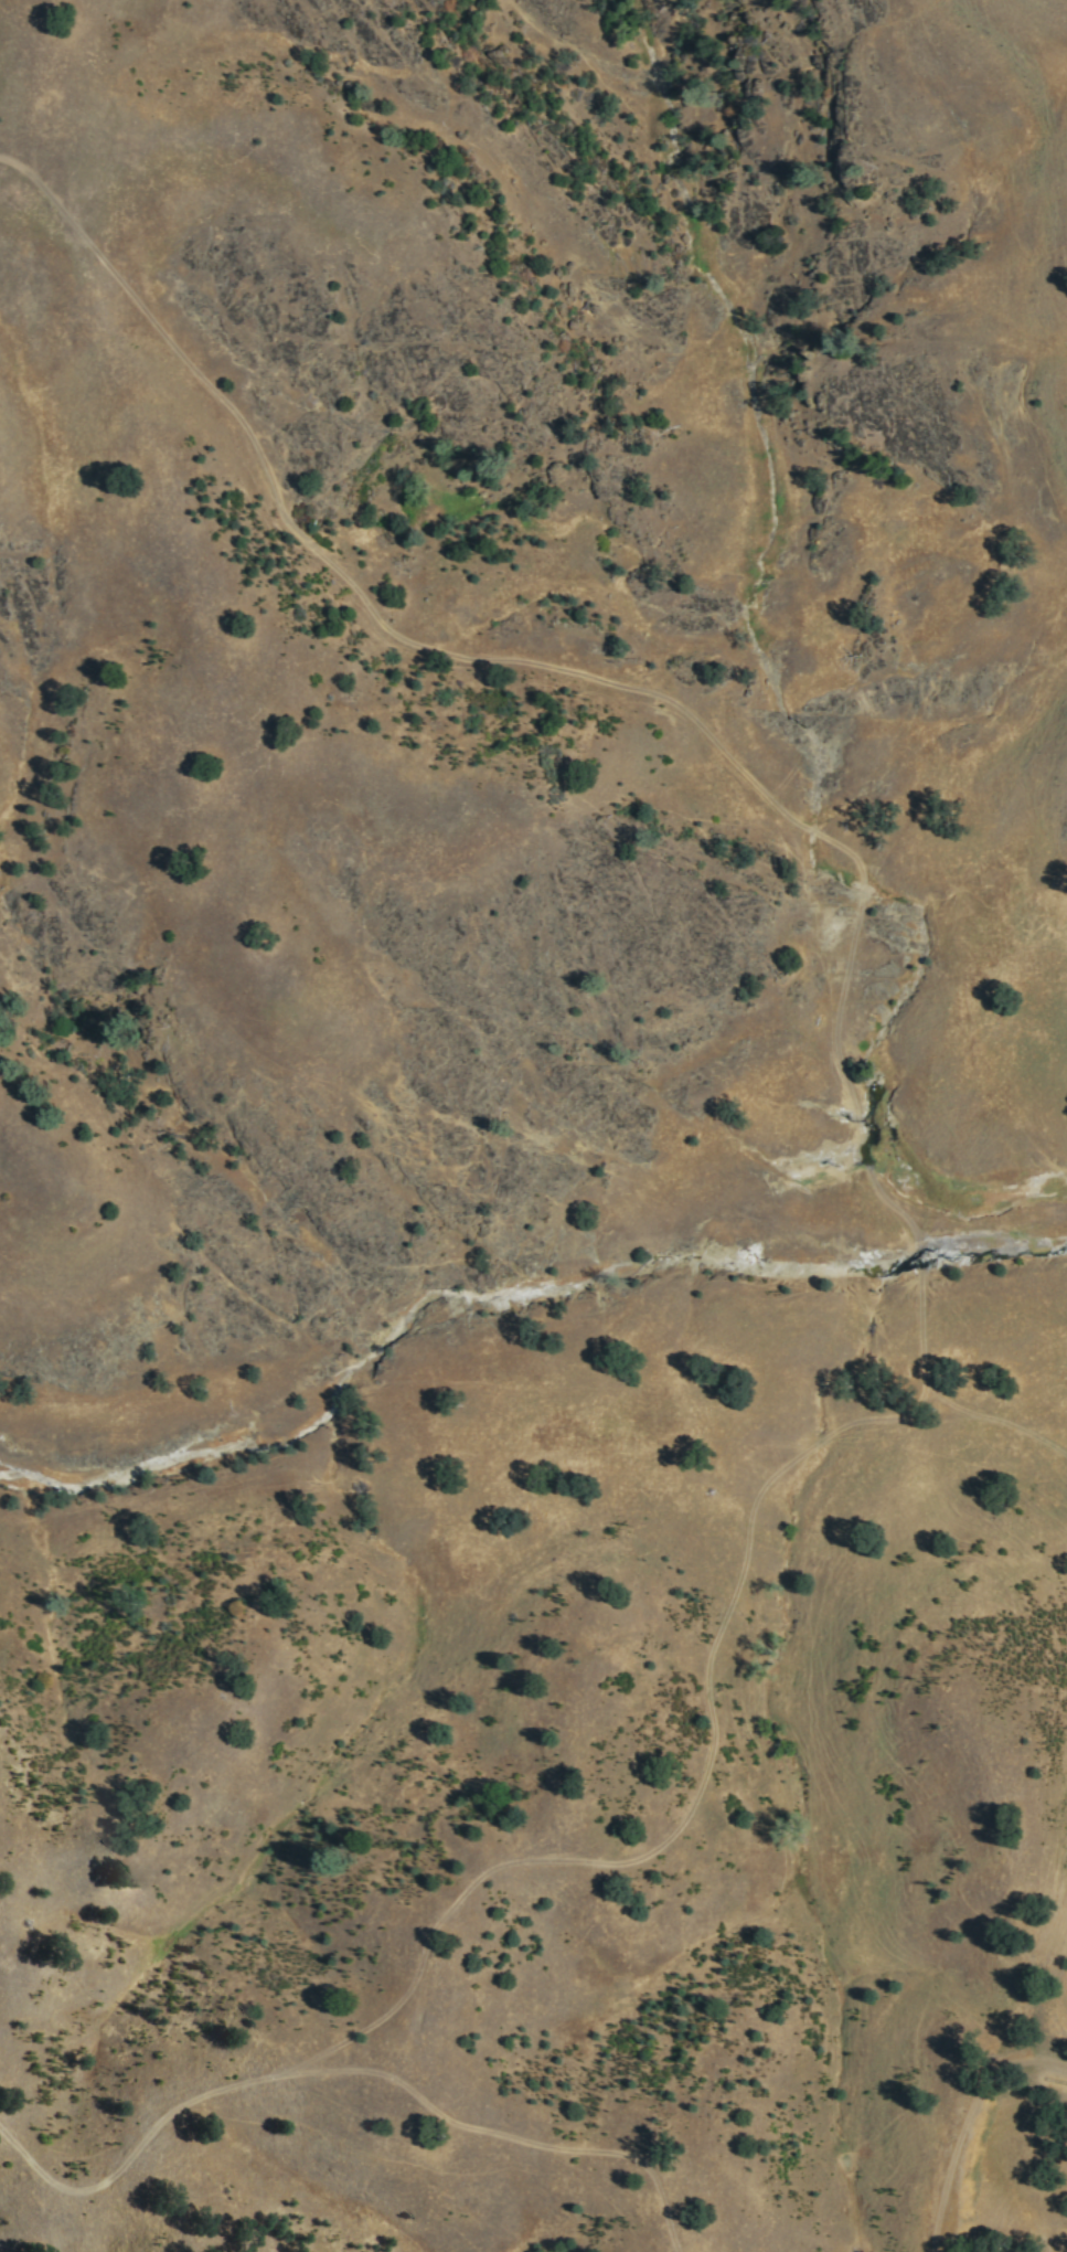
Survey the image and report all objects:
road: (350, 2069)
road: (965, 2118)

